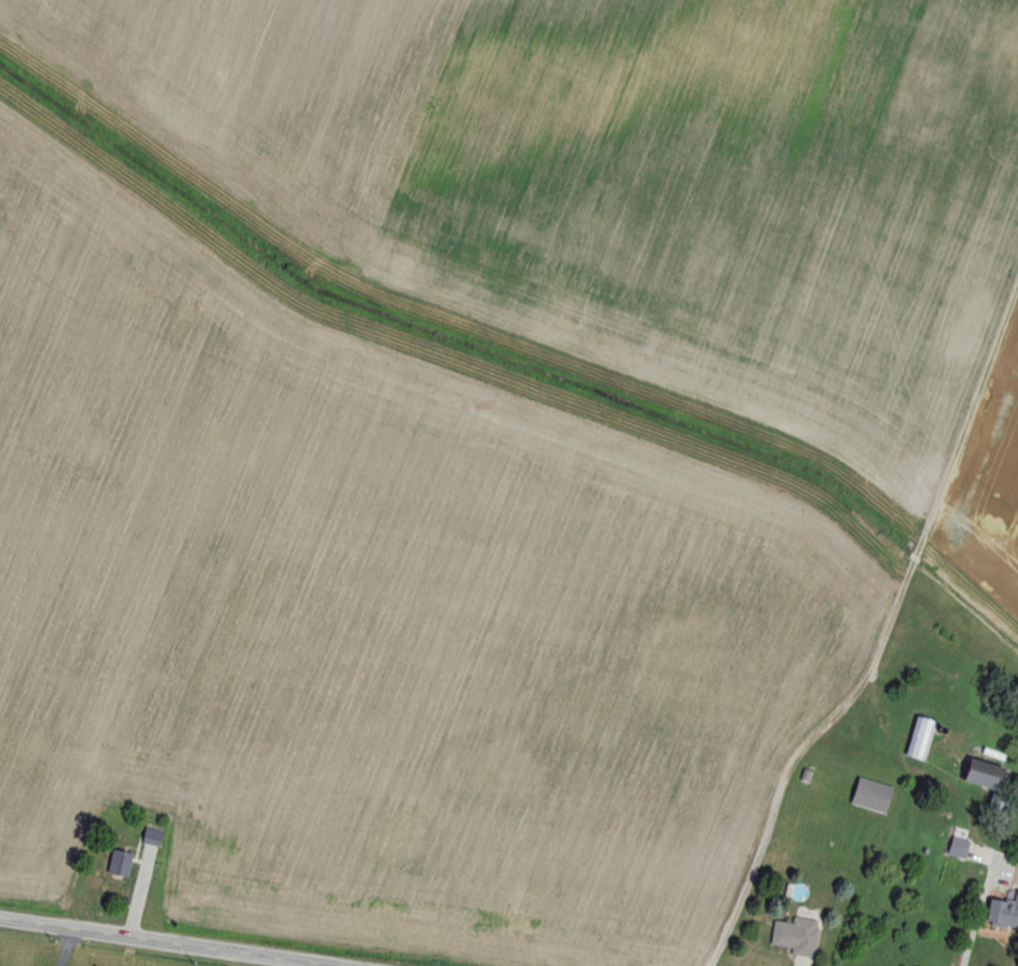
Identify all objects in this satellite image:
crop: (623, 178)
crop: (992, 474)
building: (920, 738)
building: (985, 774)
building: (872, 795)
building: (958, 848)
building: (120, 863)
building: (1003, 912)
road: (973, 932)
building: (797, 936)
road: (149, 947)
road: (67, 951)

